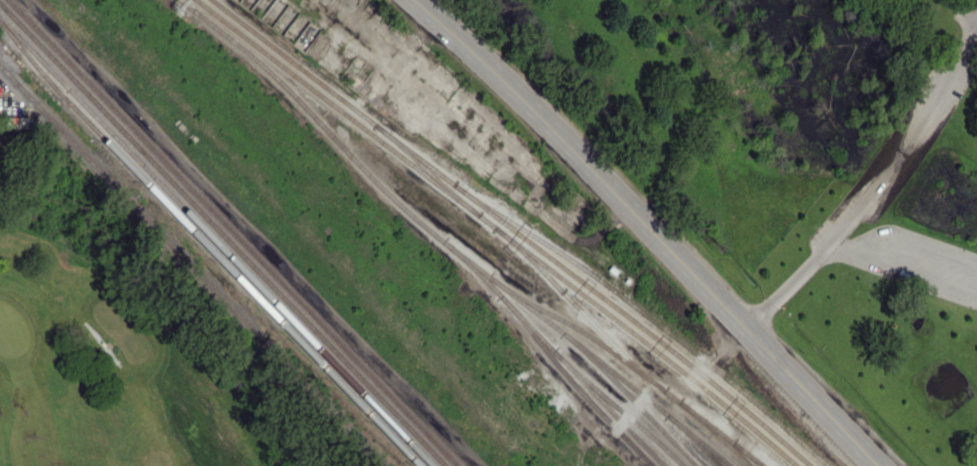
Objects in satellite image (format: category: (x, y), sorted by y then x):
parking lot: (965, 17)
parking lot: (897, 150)
railway: (426, 170)
road: (877, 185)
railway: (498, 230)
railway: (513, 230)
road: (652, 230)
road: (54, 233)
railway: (232, 233)
railway: (222, 234)
railway: (215, 241)
railway: (446, 243)
railway: (205, 246)
road: (836, 247)
road: (844, 249)
parking lot: (916, 261)
railway: (191, 266)
railway: (579, 310)
railway: (648, 316)
park: (13, 332)
park: (123, 341)
road: (103, 342)
railway: (557, 354)
railway: (631, 366)
railway: (575, 383)
railway: (631, 398)
railway: (618, 406)
railway: (715, 434)
railway: (693, 440)
railway: (746, 454)

